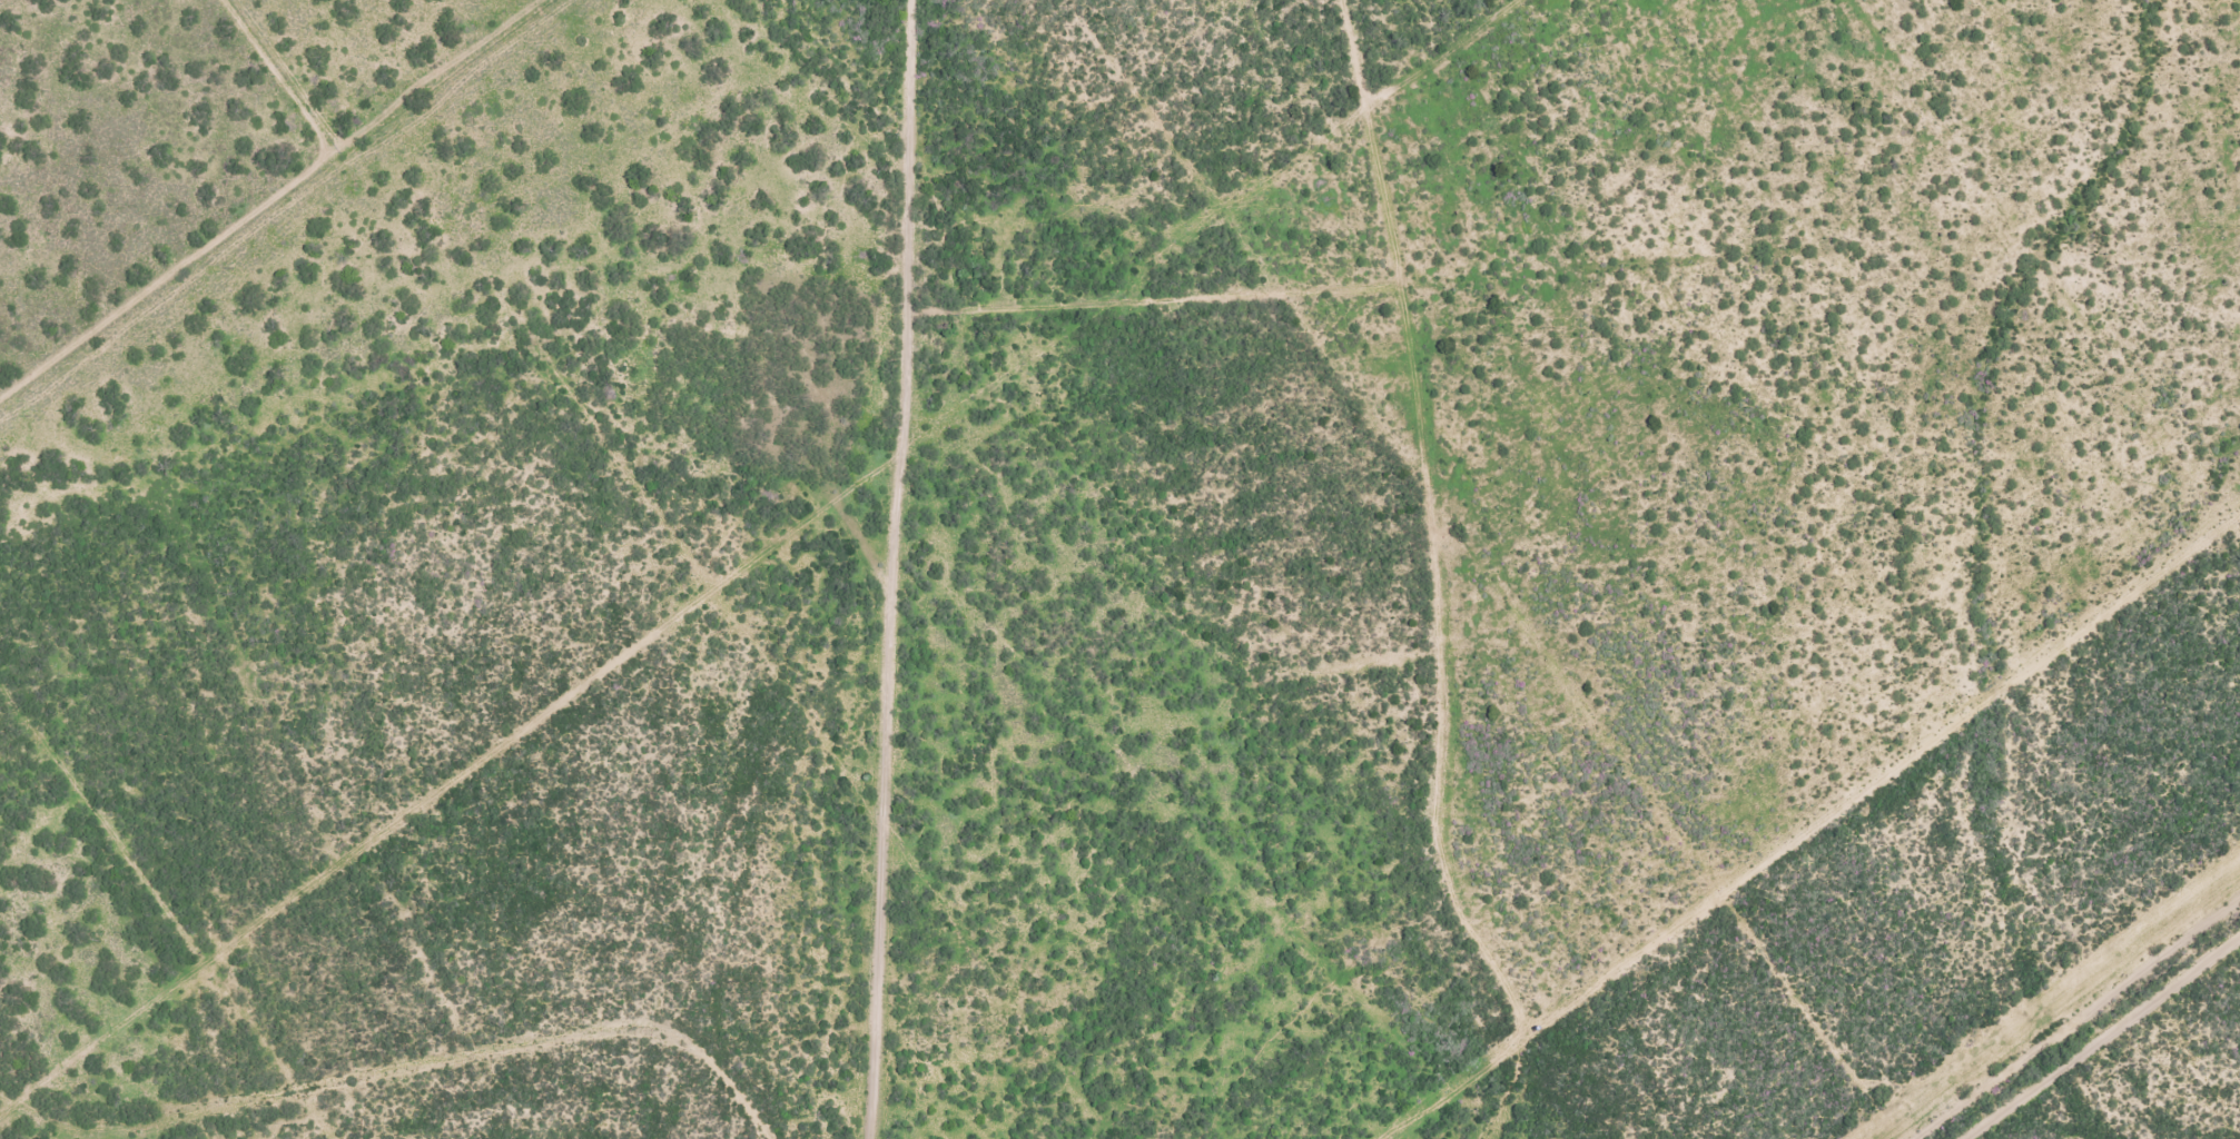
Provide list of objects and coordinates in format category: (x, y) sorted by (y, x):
road: (927, 566)
road: (1451, 583)
road: (416, 1042)
road: (2099, 1050)

